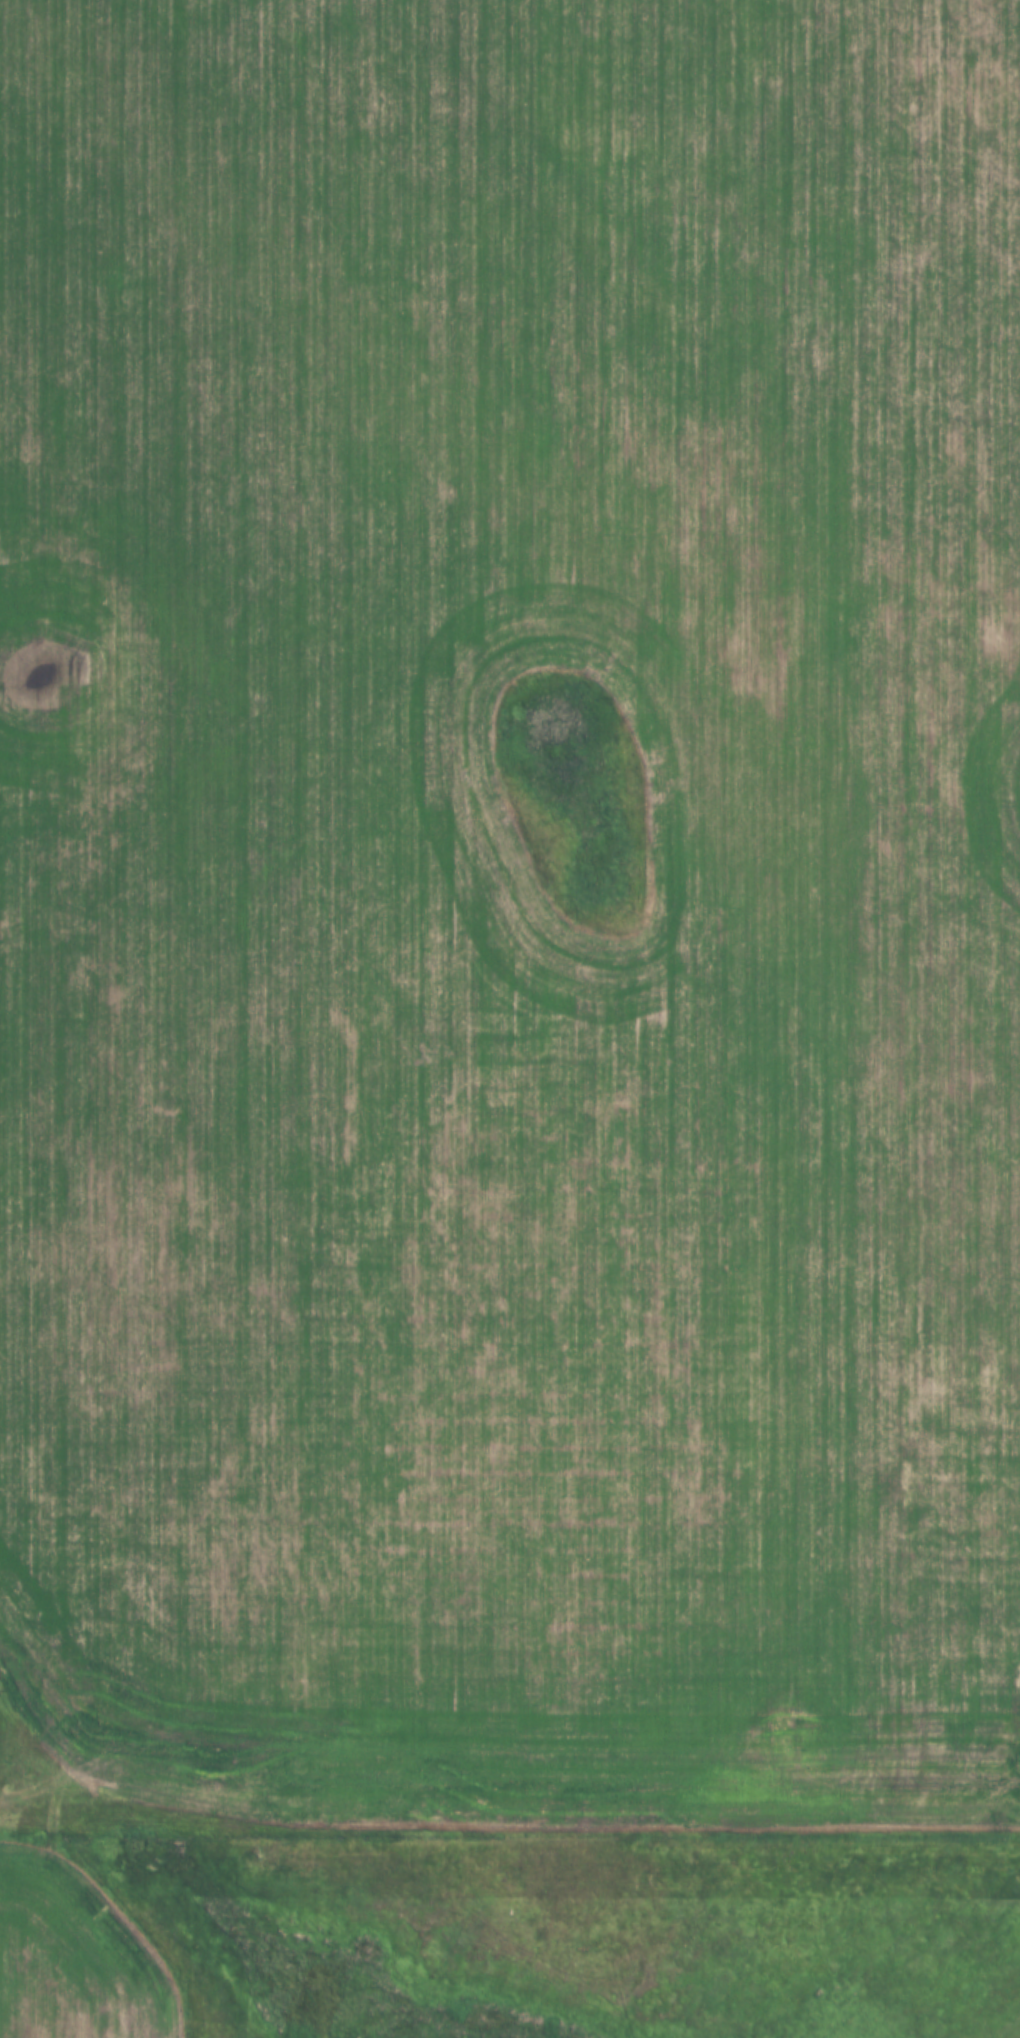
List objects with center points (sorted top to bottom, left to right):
road: (510, 1824)

